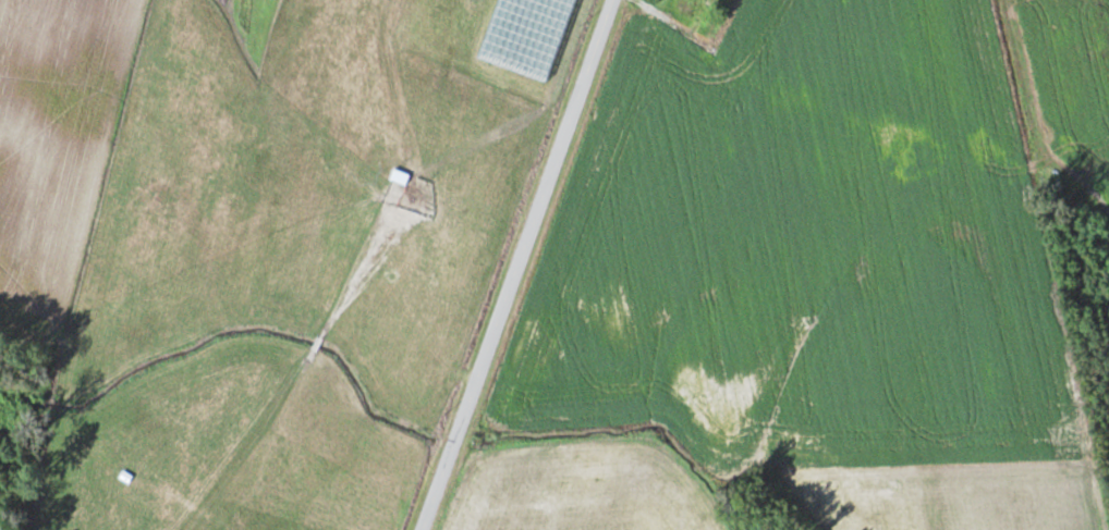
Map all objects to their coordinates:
building: (686, 4)
road: (516, 264)

